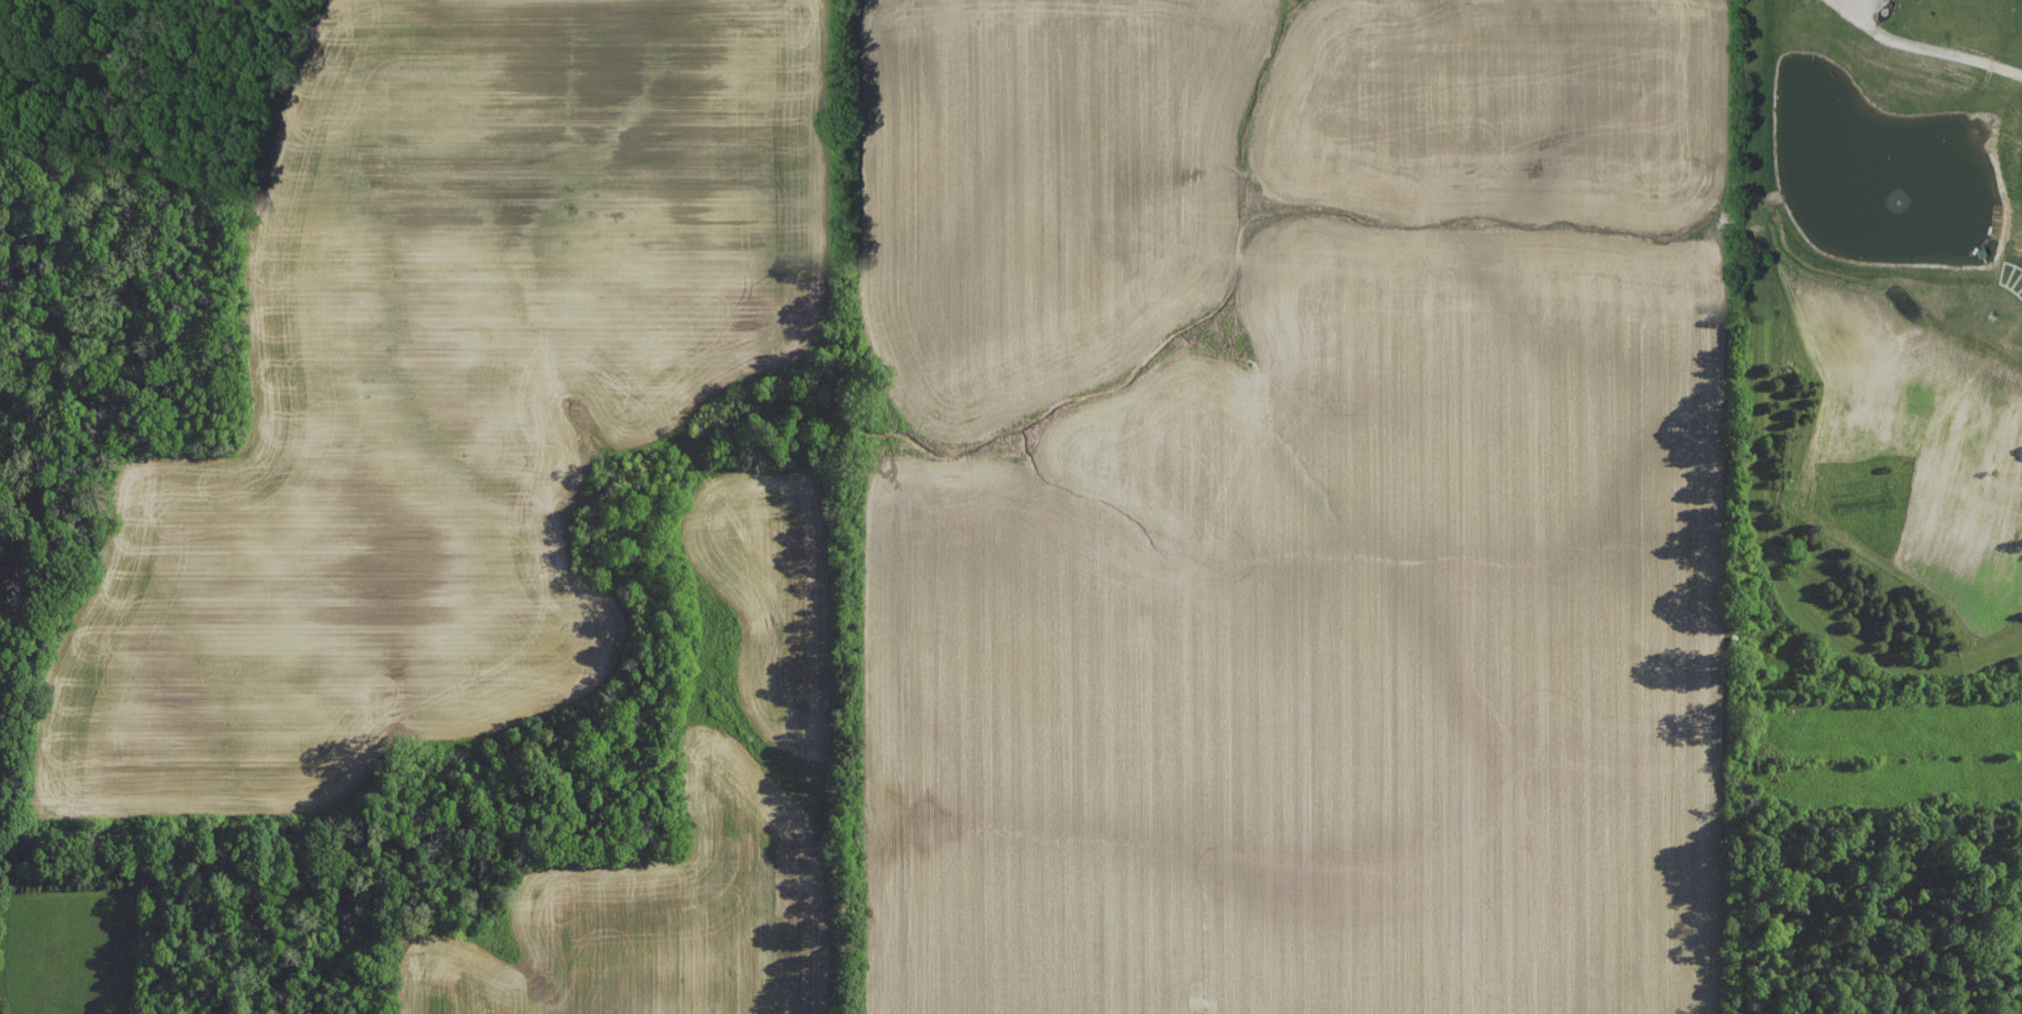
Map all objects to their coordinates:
road: (1936, 48)

